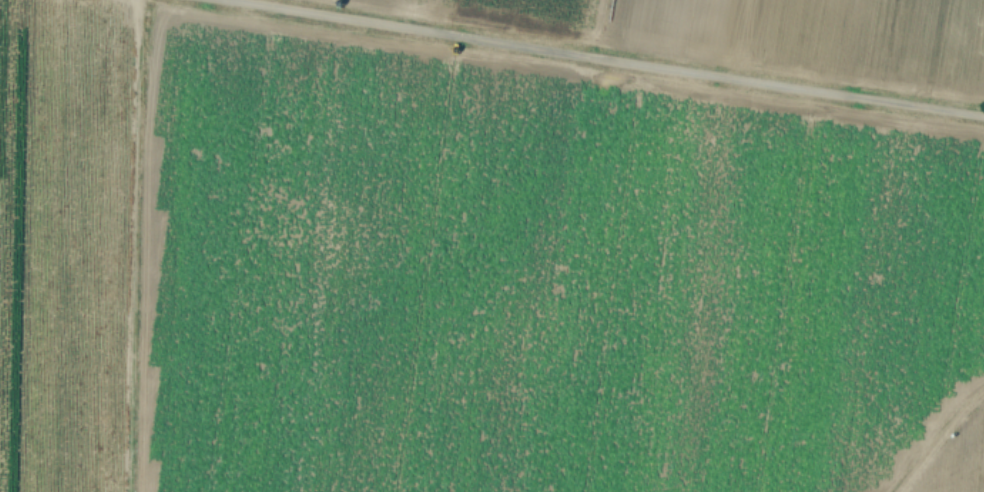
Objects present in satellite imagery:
road: (613, 59)
crop: (492, 246)

